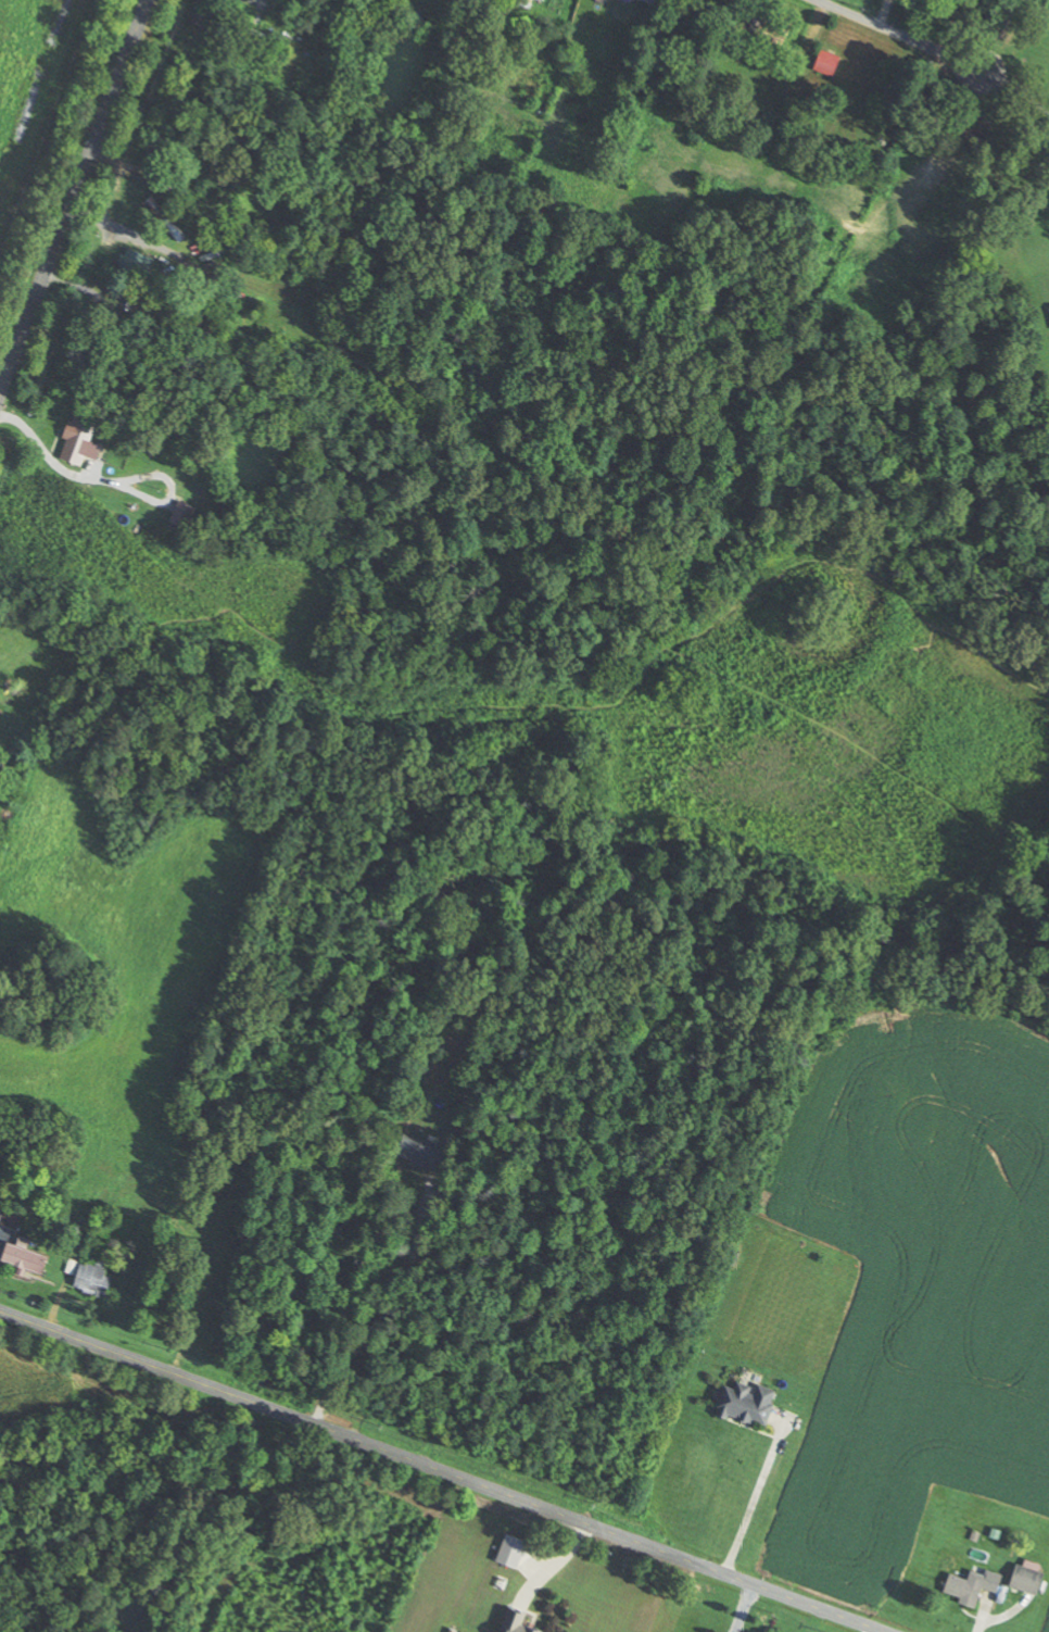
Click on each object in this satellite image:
road: (913, 36)
road: (458, 37)
road: (73, 191)
road: (446, 1469)

